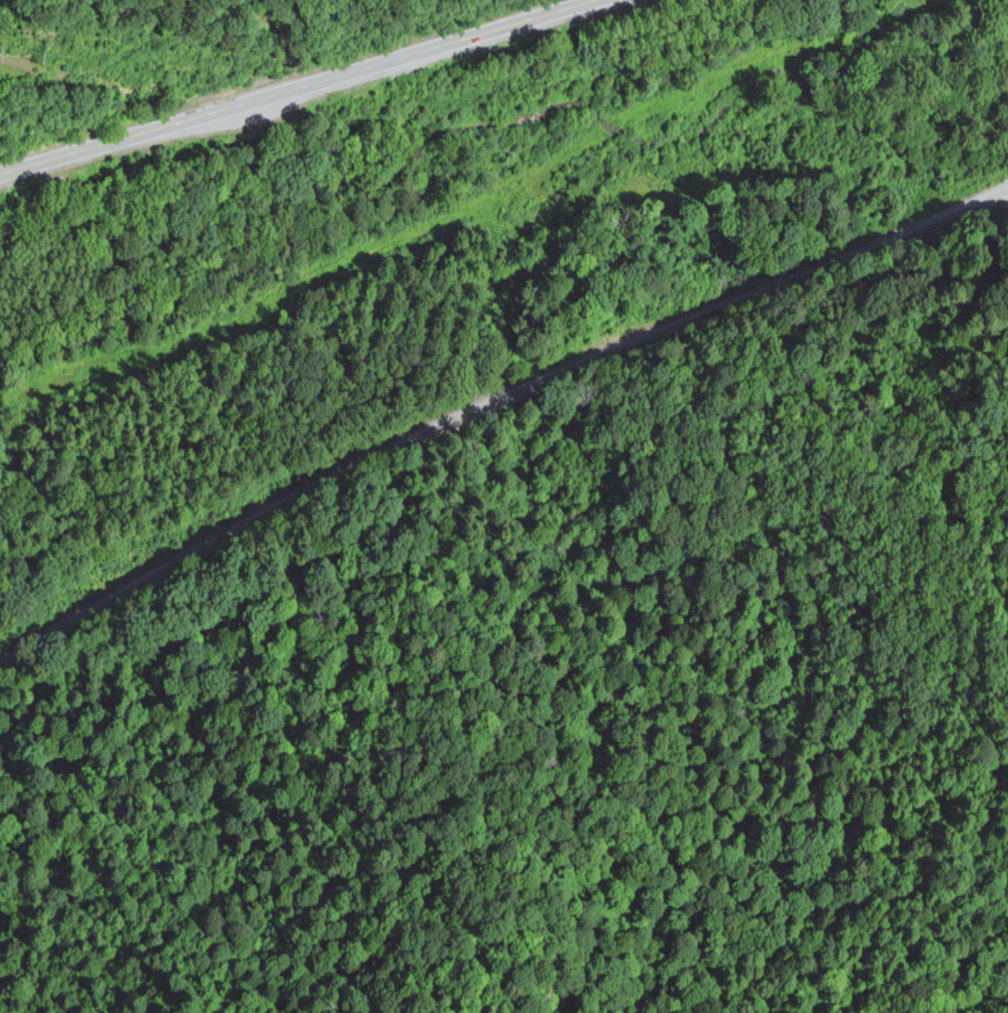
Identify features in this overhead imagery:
road: (302, 89)
railway: (494, 402)

